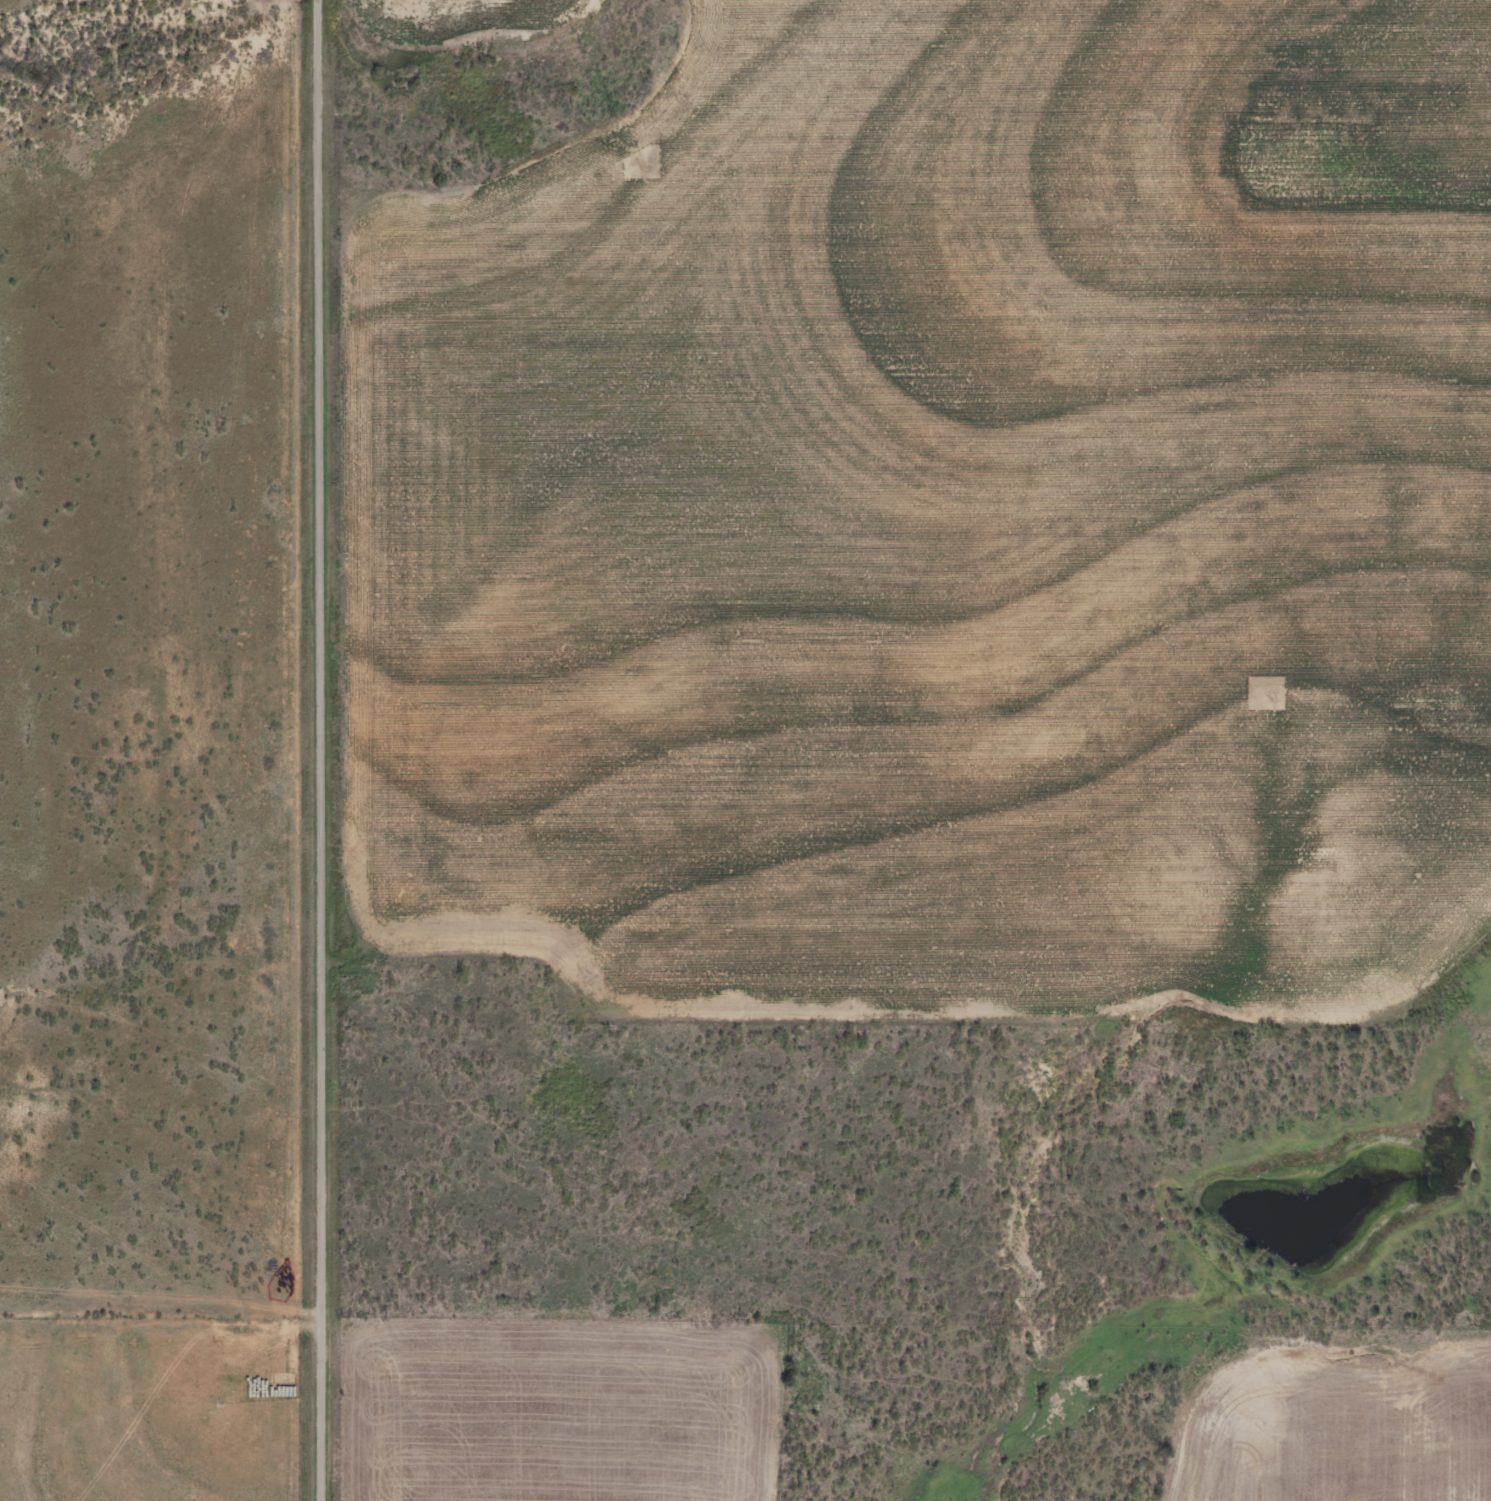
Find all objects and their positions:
road: (320, 750)

